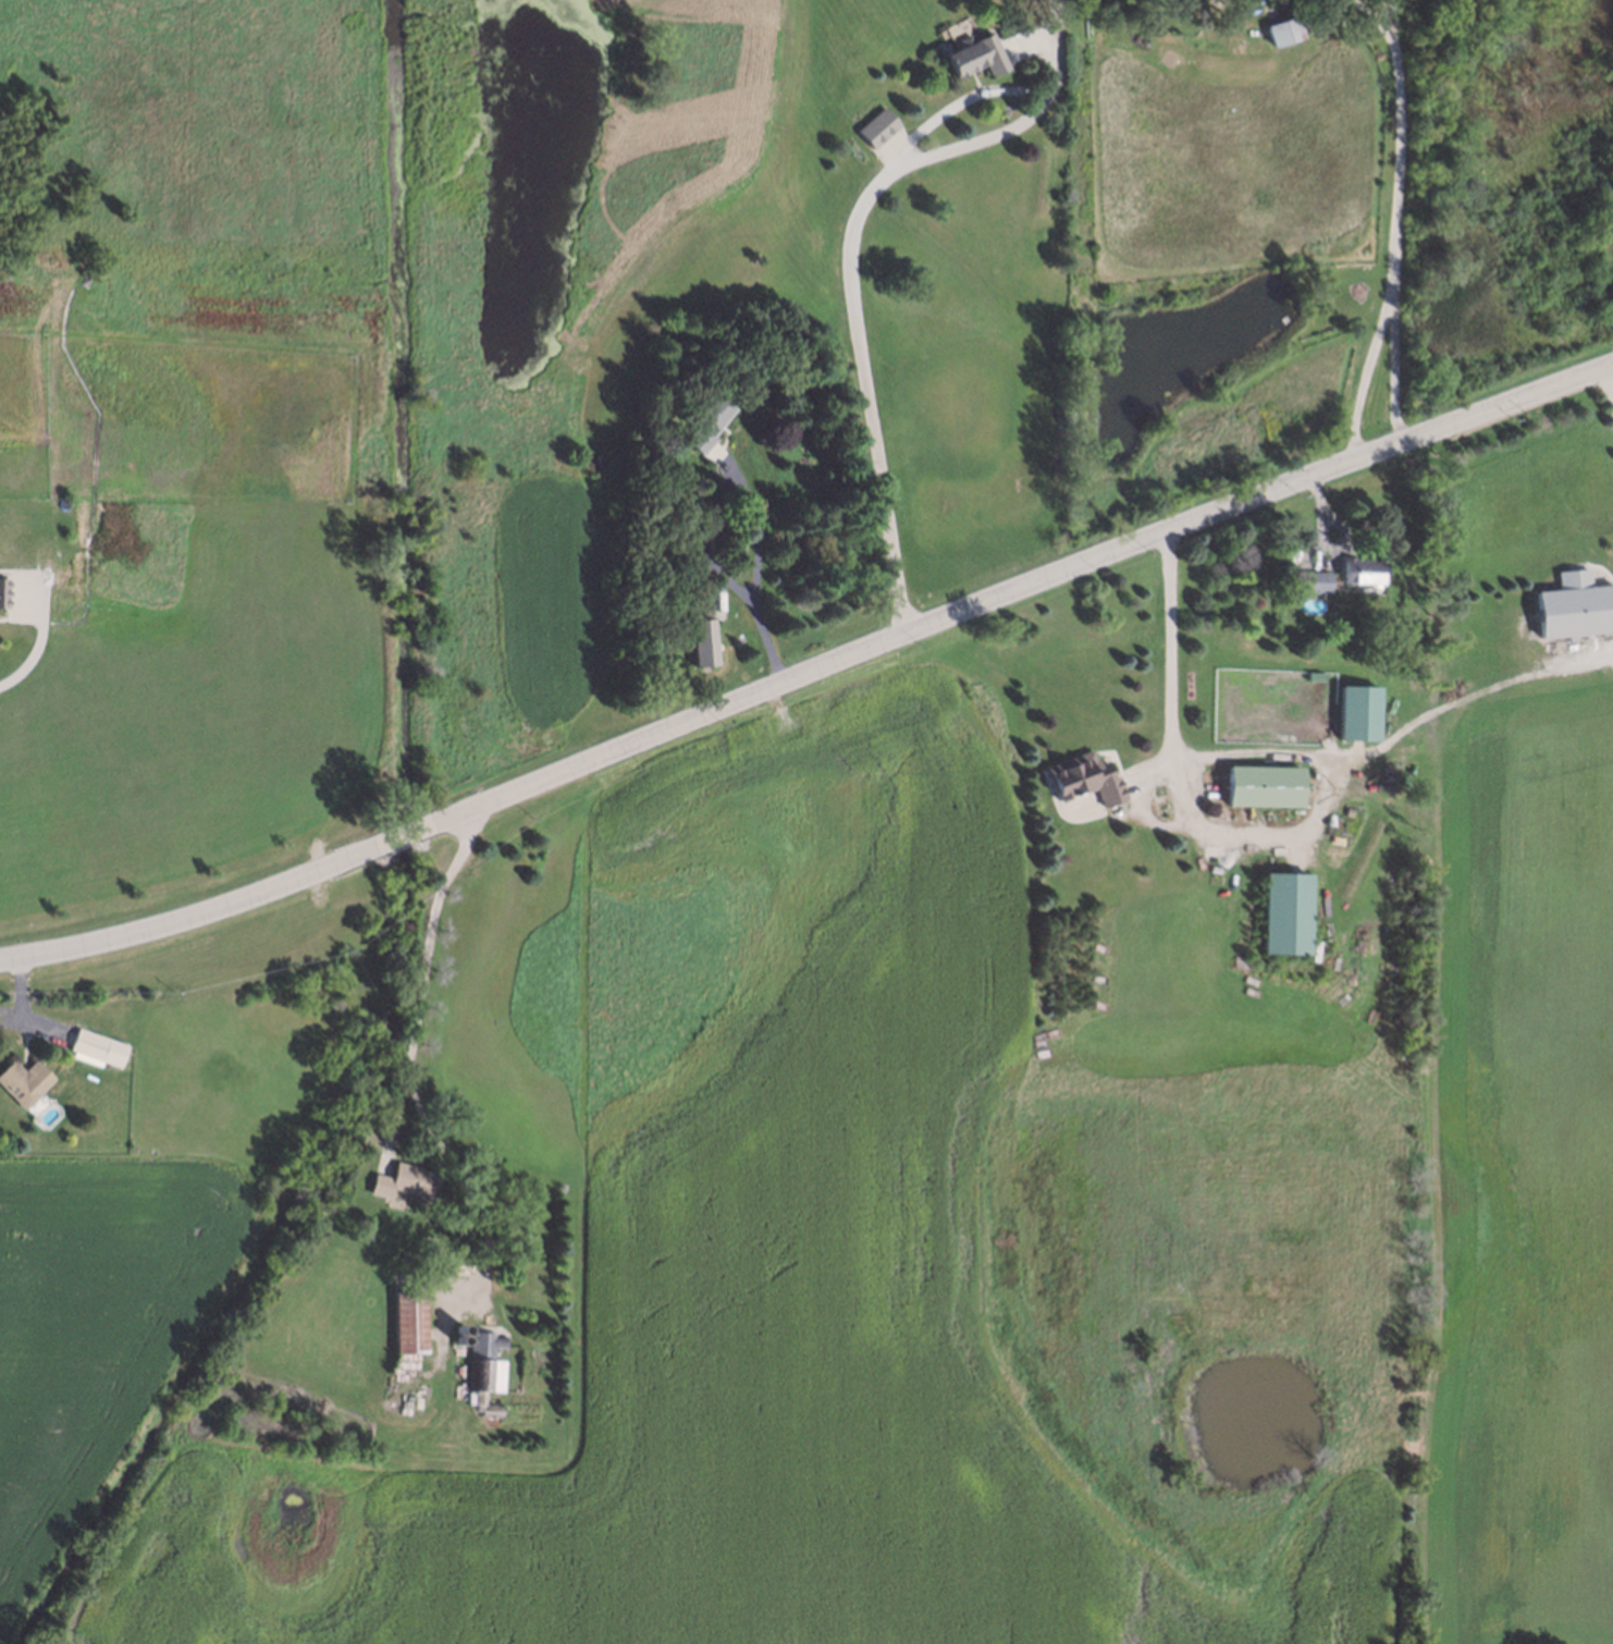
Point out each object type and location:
road: (1387, 5)
road: (1371, 16)
building: (1286, 30)
building: (965, 50)
building: (872, 127)
road: (1395, 221)
road: (848, 283)
road: (1369, 369)
road: (1609, 387)
building: (706, 415)
road: (699, 541)
road: (751, 564)
building: (1360, 568)
building: (1316, 577)
building: (4, 594)
building: (1575, 608)
road: (41, 638)
building: (702, 639)
road: (1166, 648)
road: (808, 672)
building: (1313, 678)
building: (1362, 715)
road: (1362, 758)
road: (1191, 759)
building: (1079, 774)
building: (1266, 787)
building: (1289, 915)
building: (91, 1044)
road: (410, 1060)
building: (19, 1079)
building: (403, 1178)
building: (408, 1320)
building: (458, 1327)
building: (456, 1338)
building: (483, 1372)

